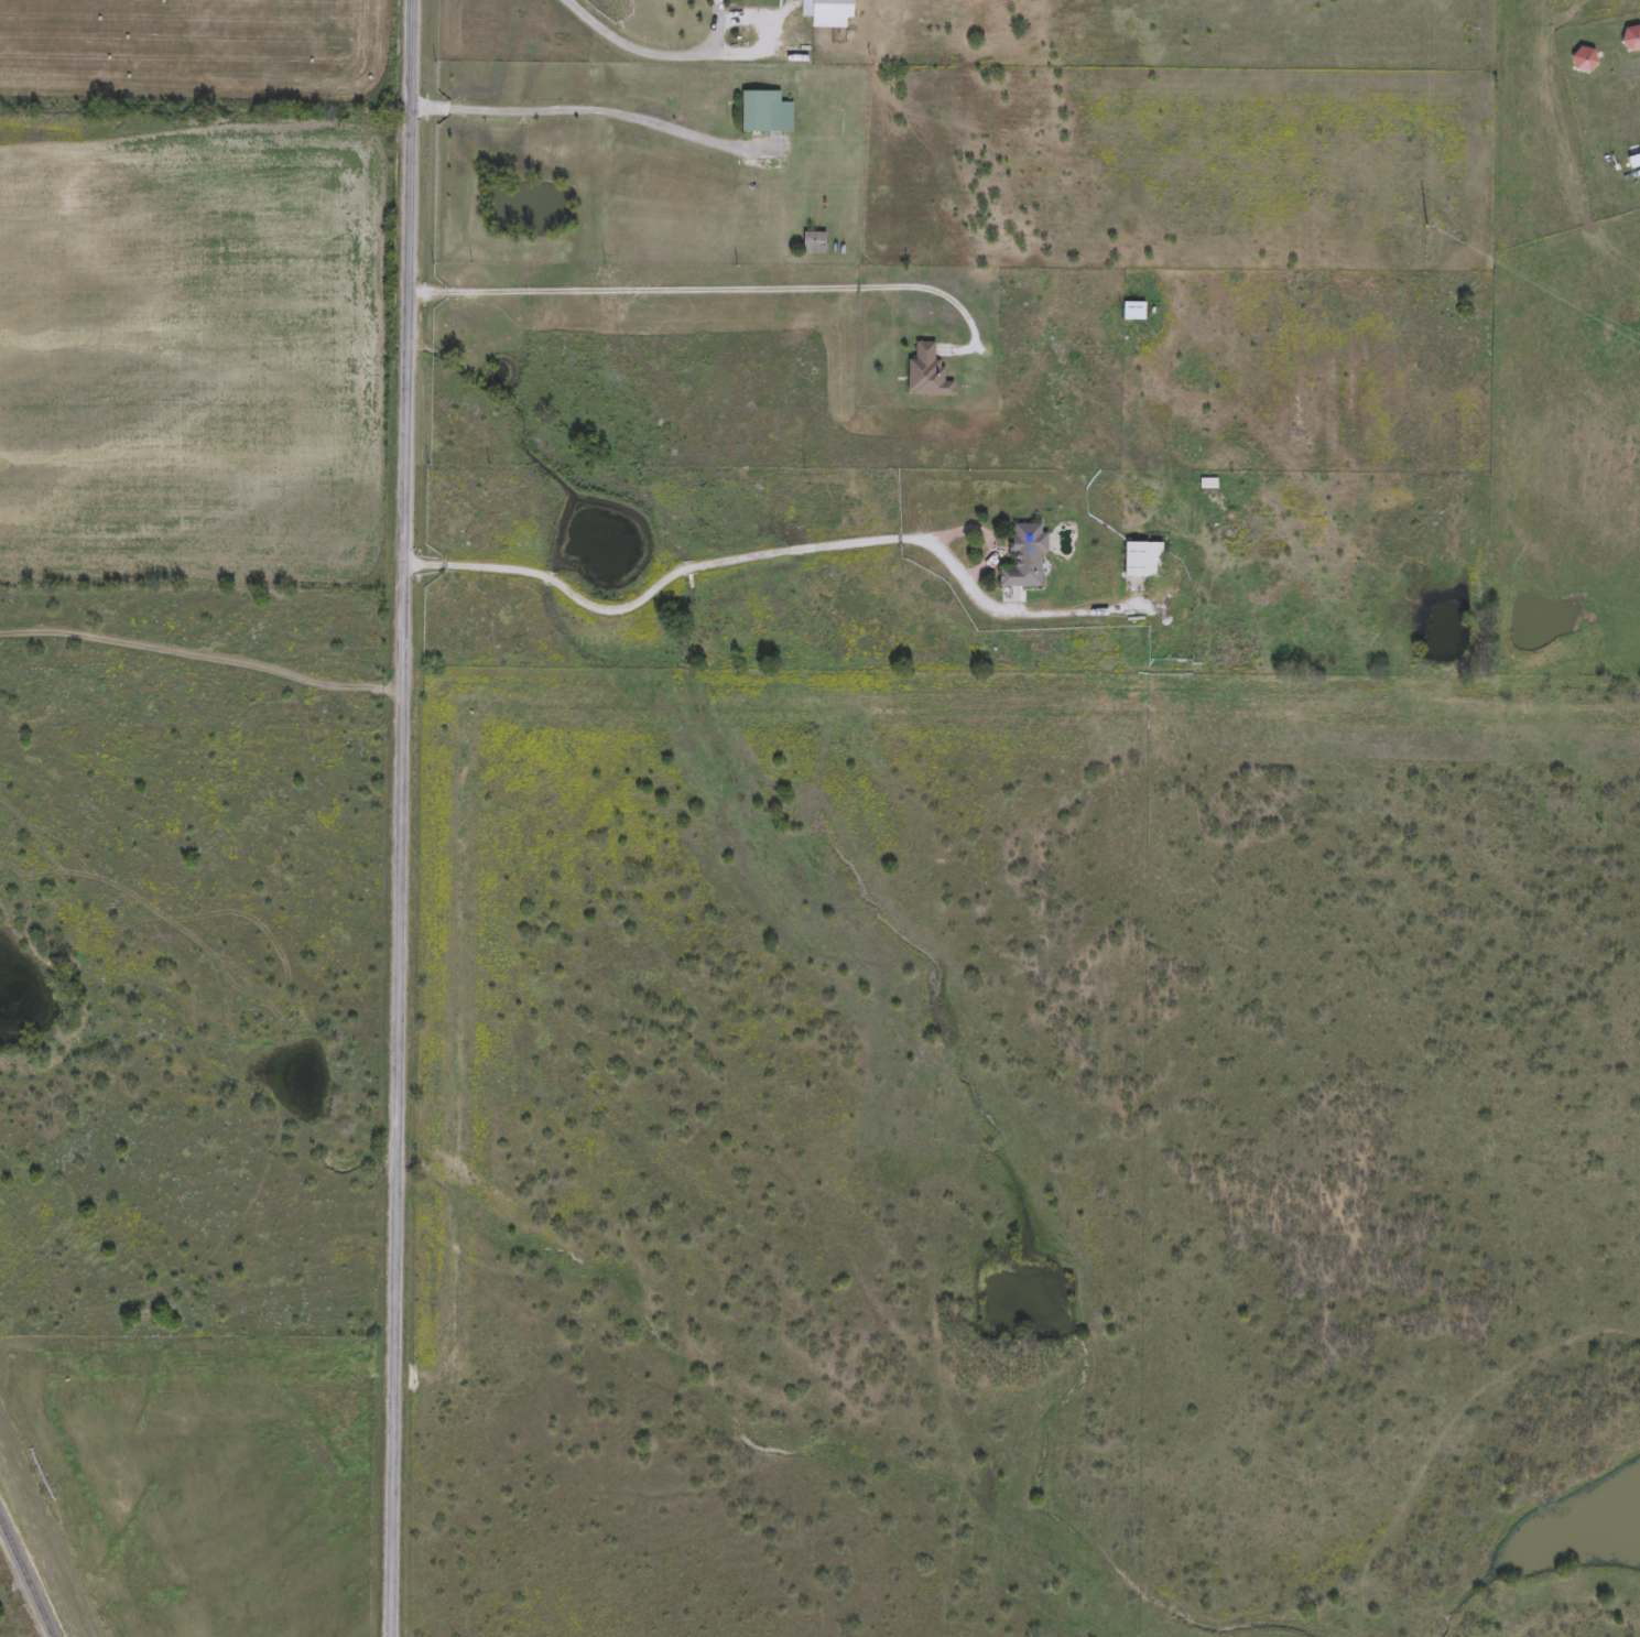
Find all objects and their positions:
building: (828, 13)
road: (649, 50)
road: (580, 108)
building: (764, 113)
building: (814, 245)
road: (715, 286)
building: (1134, 313)
building: (927, 375)
building: (1208, 485)
road: (771, 552)
building: (1024, 559)
building: (1143, 562)
road: (406, 817)
railway: (24, 1583)

